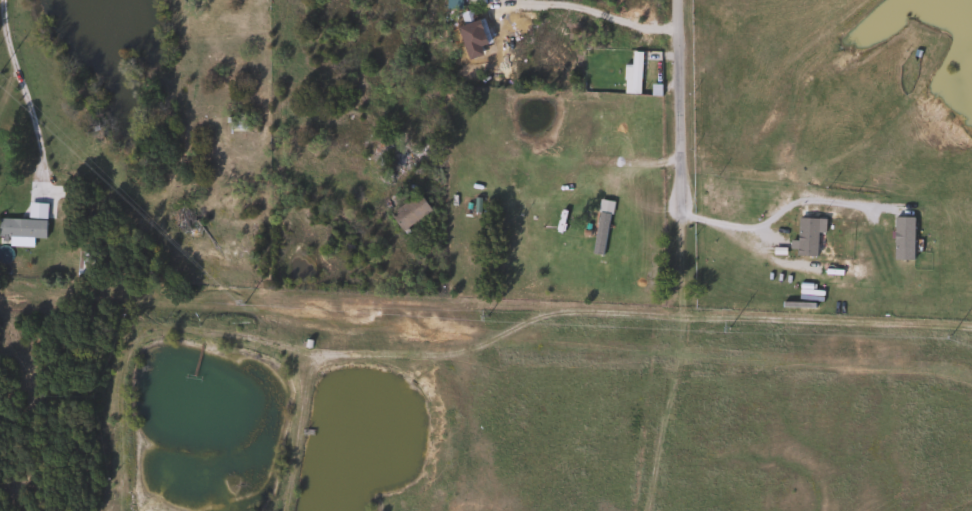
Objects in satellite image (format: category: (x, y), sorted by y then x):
road: (585, 11)
building: (632, 73)
road: (17, 78)
road: (675, 103)
building: (236, 122)
road: (822, 201)
building: (407, 211)
road: (720, 222)
building: (23, 225)
power tower: (245, 305)
power tower: (488, 316)
power tower: (731, 328)
power tower: (951, 335)

